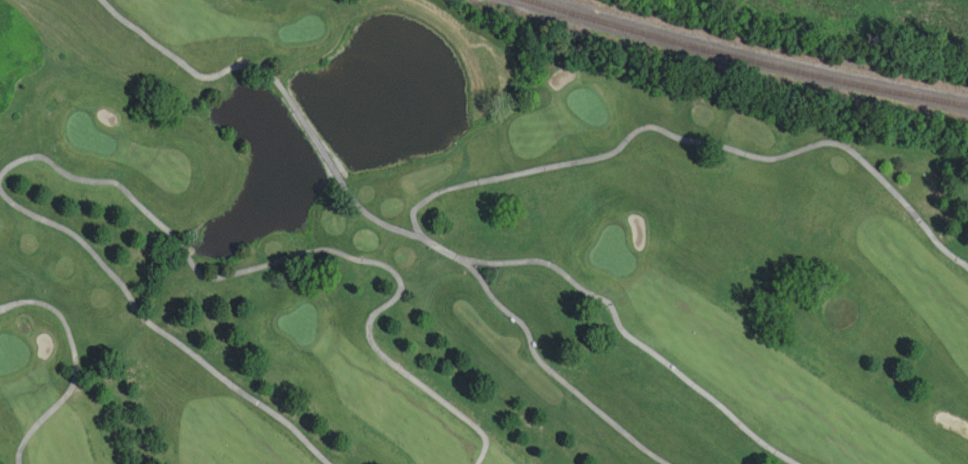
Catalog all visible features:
railway: (761, 50)
road: (282, 90)
road: (481, 182)
road: (302, 254)
road: (158, 329)
road: (78, 365)
road: (551, 370)

